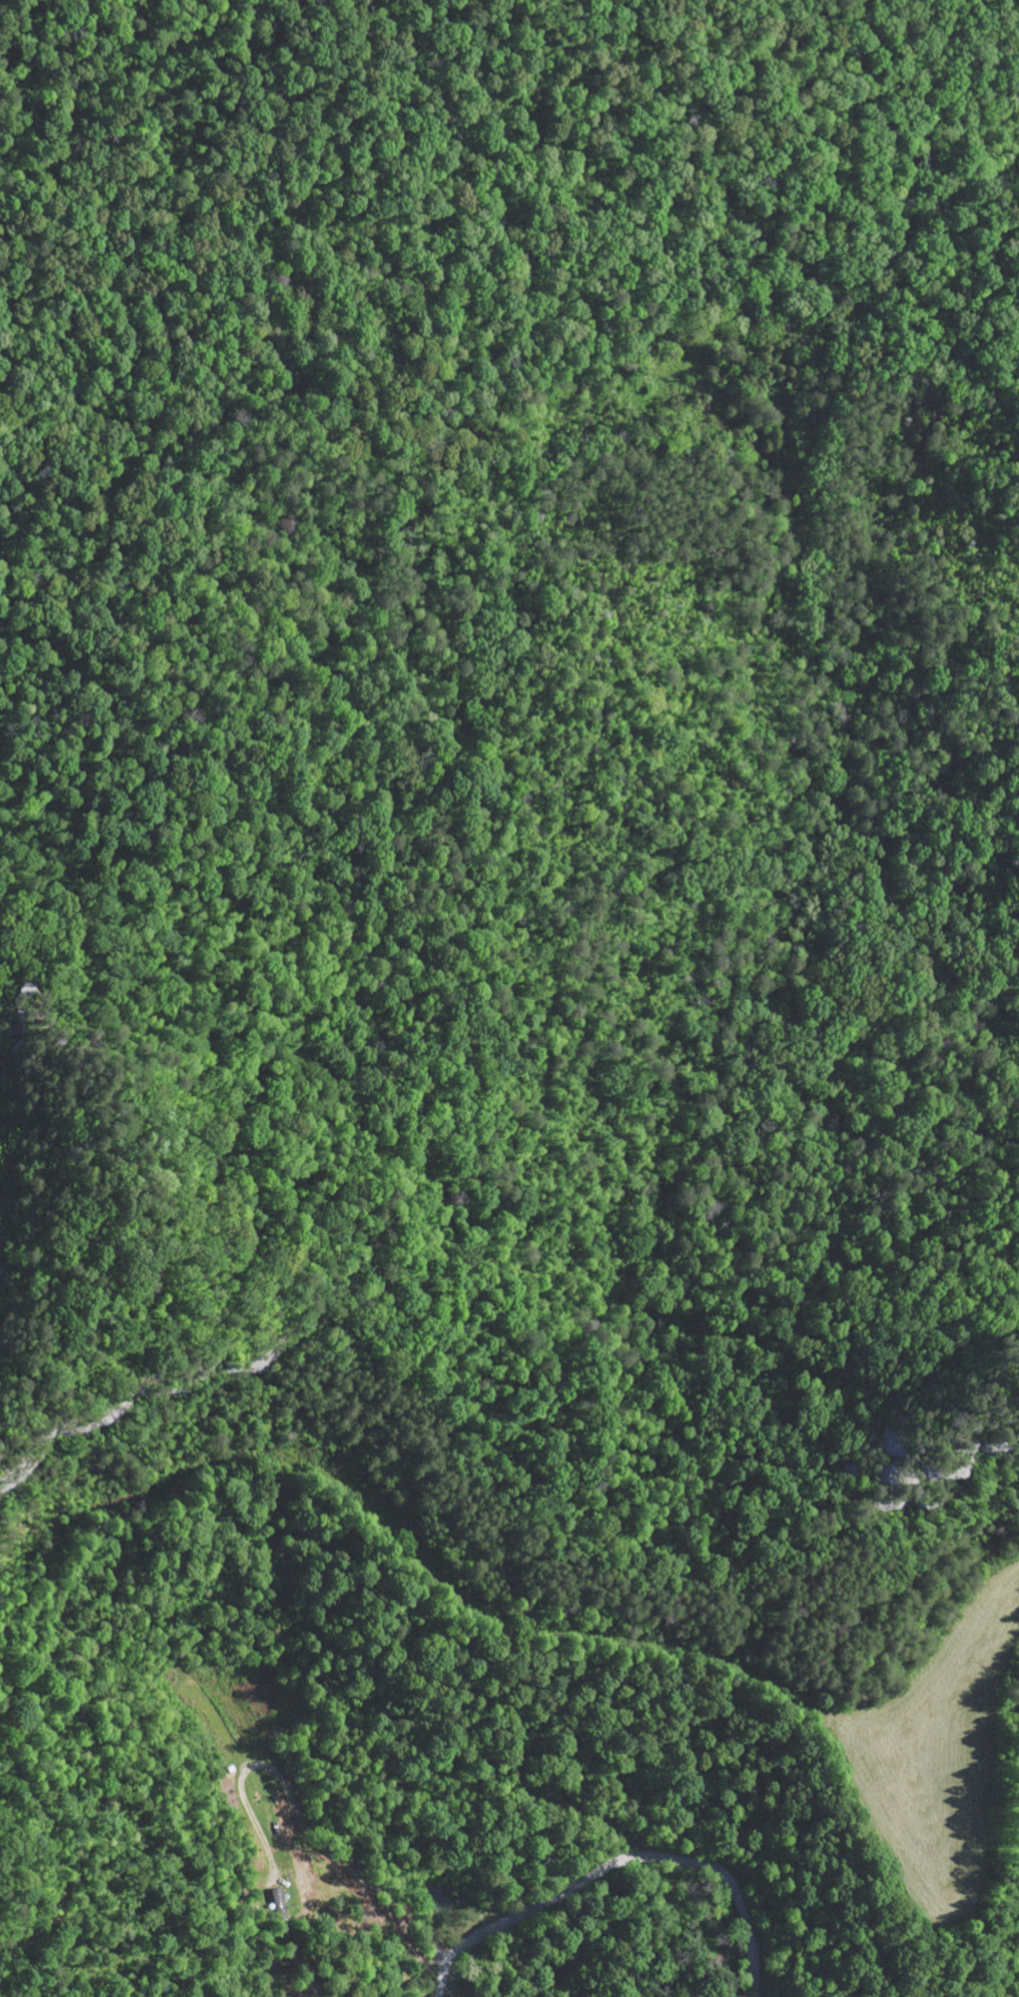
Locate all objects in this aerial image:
road: (514, 292)
road: (622, 1861)

